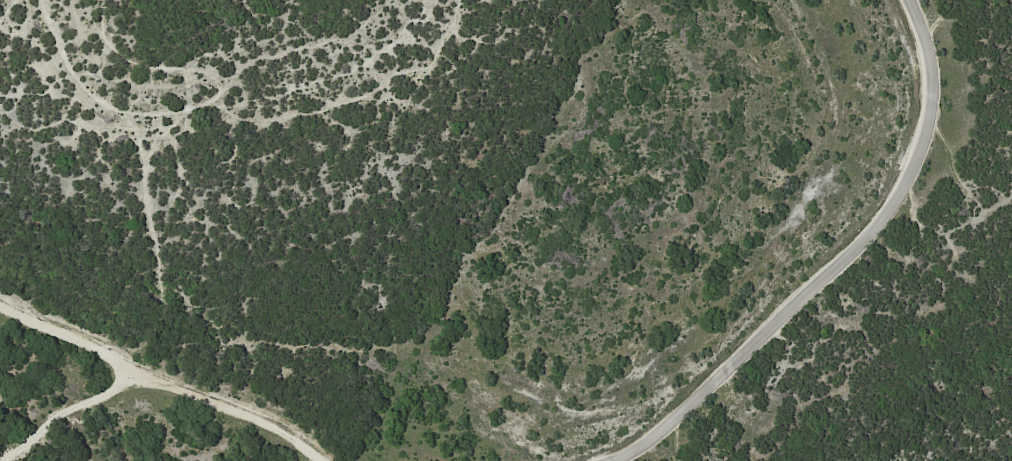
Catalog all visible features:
road: (839, 266)
road: (161, 385)
road: (51, 401)

